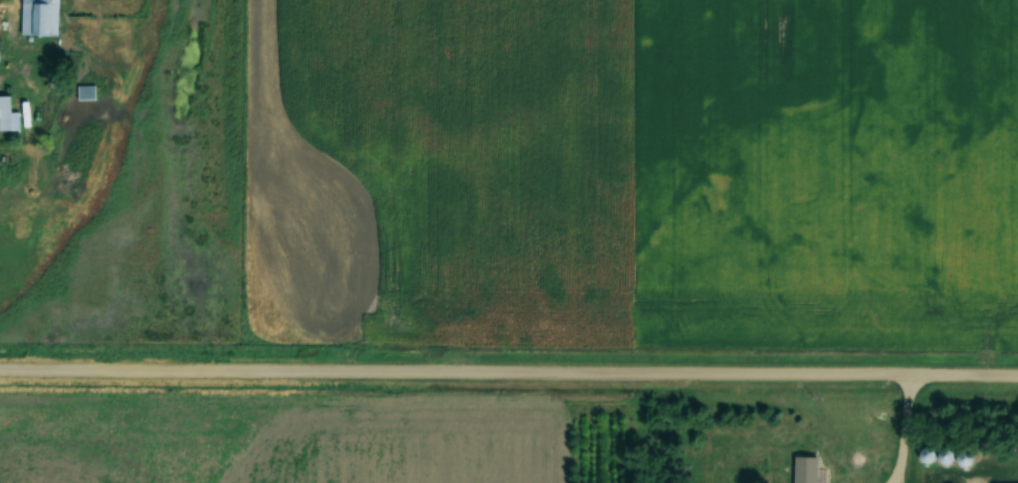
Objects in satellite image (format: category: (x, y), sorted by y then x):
building: (38, 18)
building: (85, 93)
building: (4, 113)
road: (509, 370)
road: (907, 429)
crop: (272, 443)
building: (803, 470)

